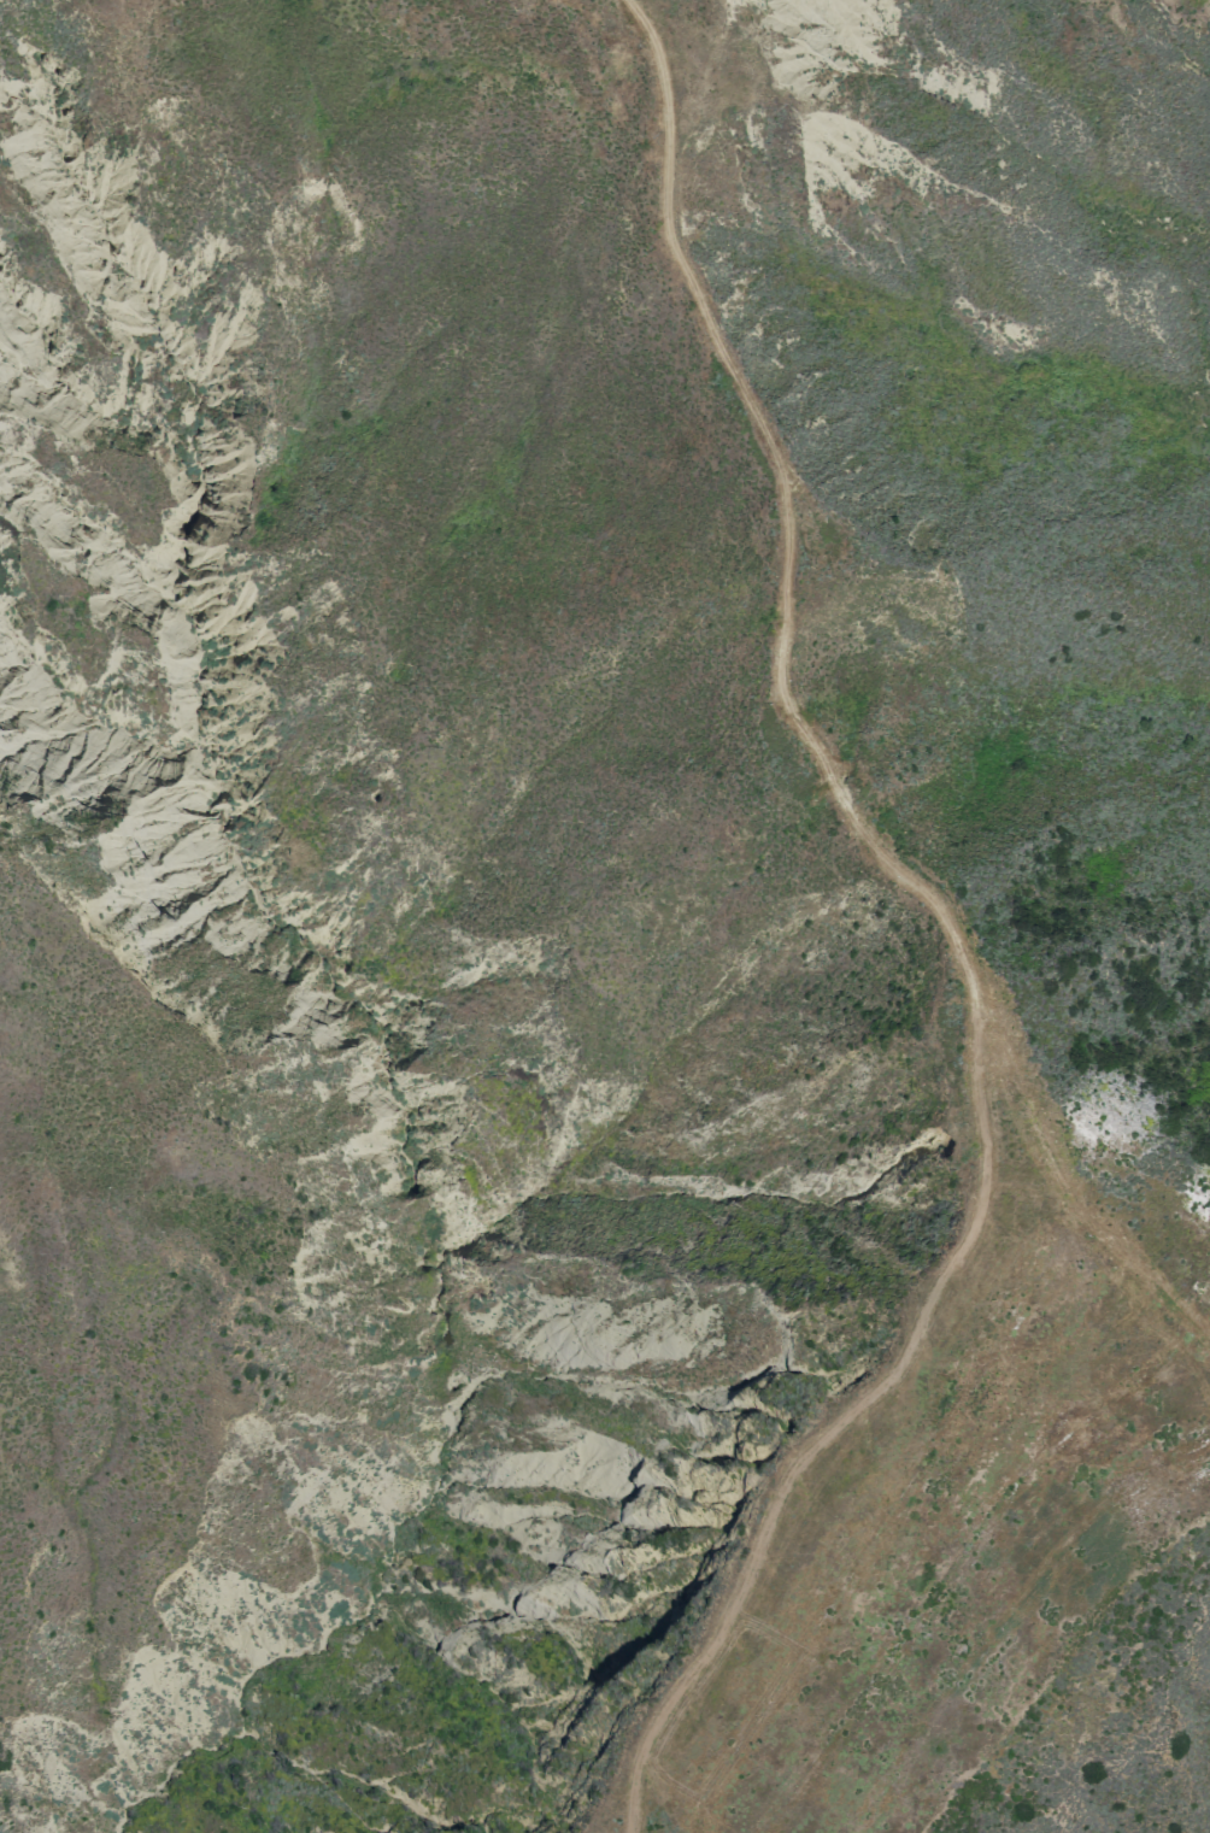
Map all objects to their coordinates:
road: (946, 926)

